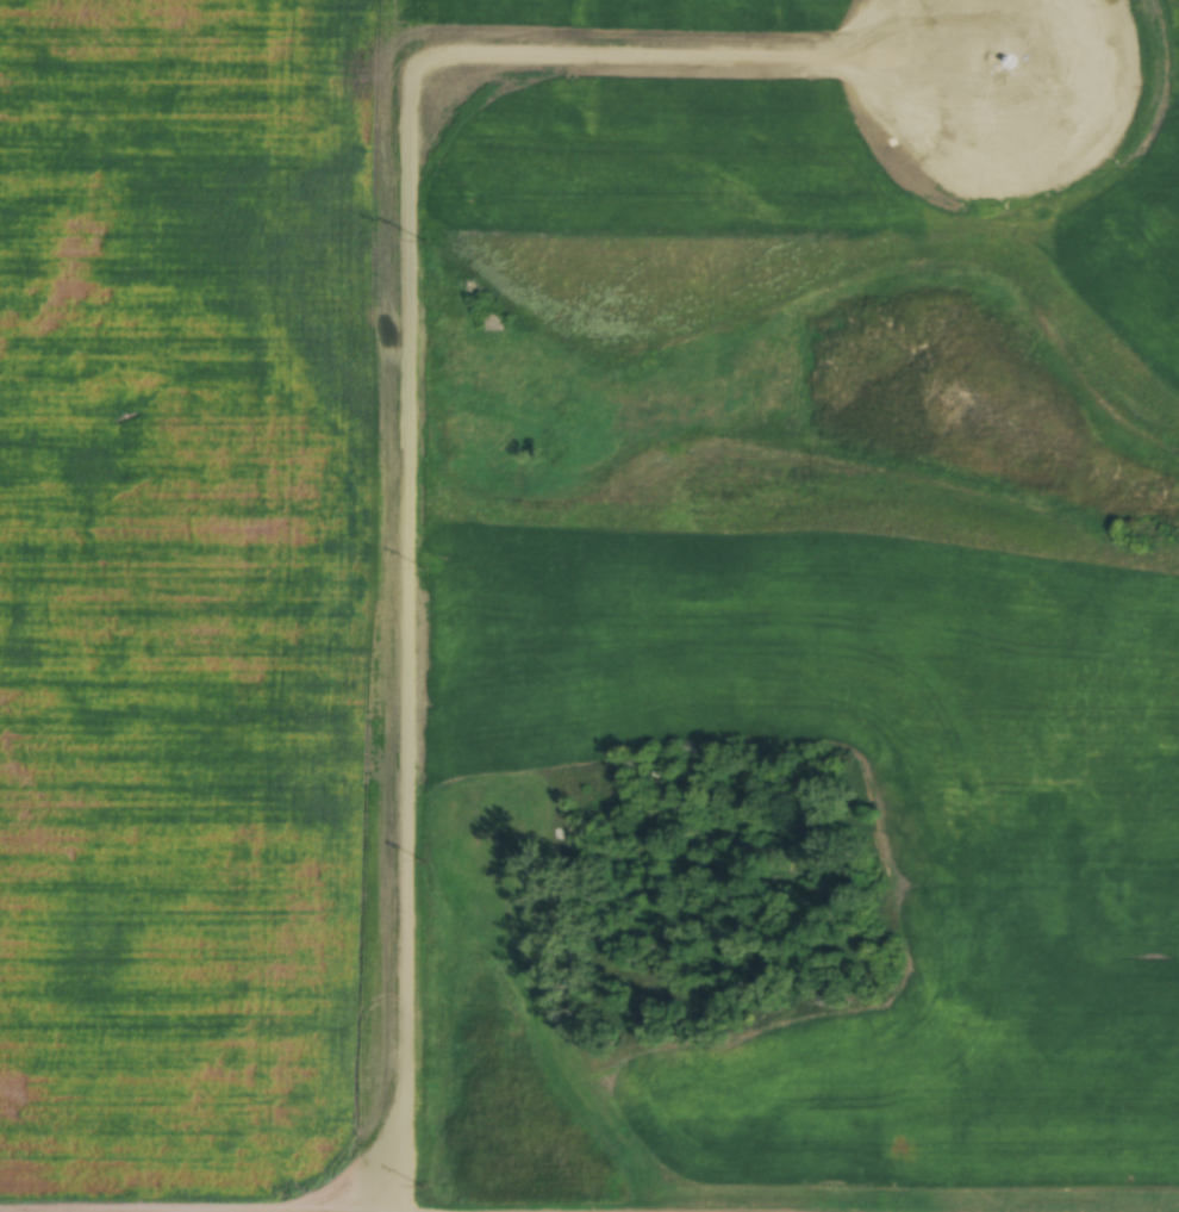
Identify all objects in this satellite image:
wind turbine: (999, 54)
road: (935, 1207)
road: (207, 1210)

